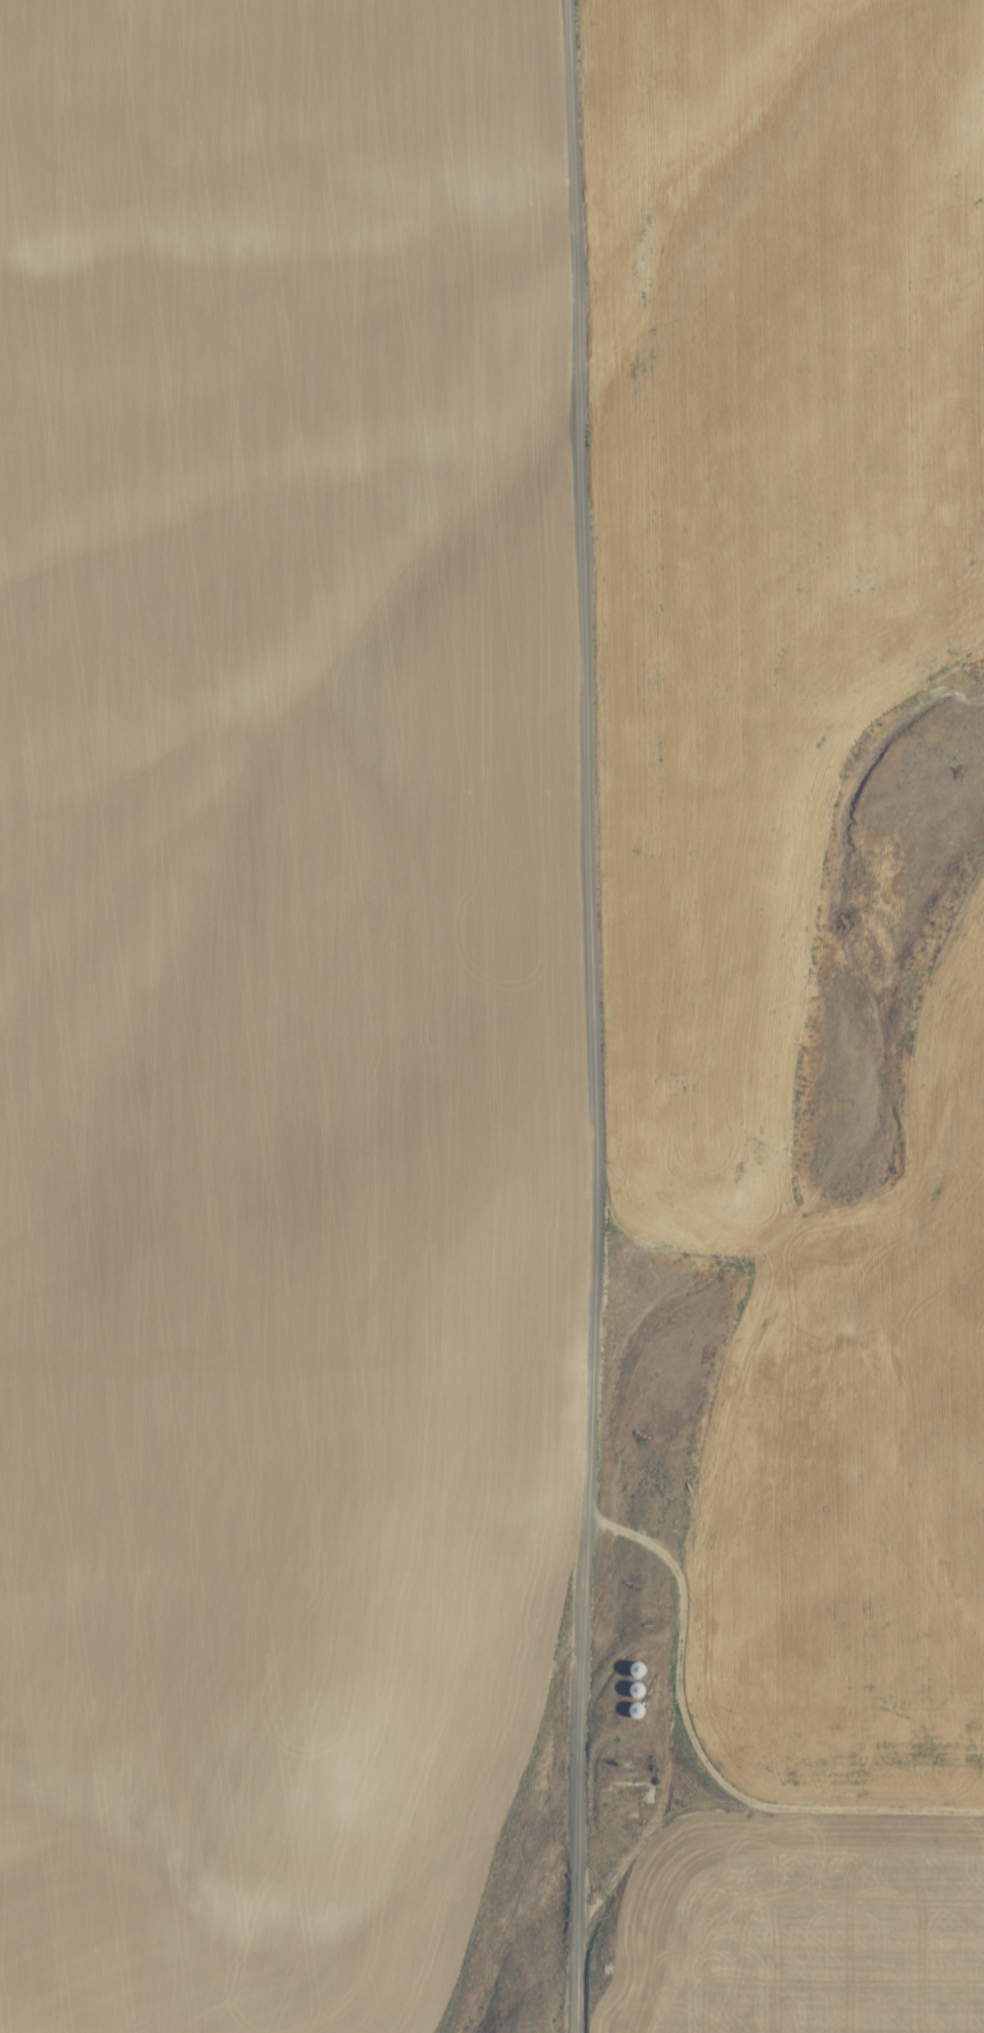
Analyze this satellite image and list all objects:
road: (587, 1016)
building: (636, 1670)
building: (635, 1690)
building: (635, 1710)
building: (626, 1794)

